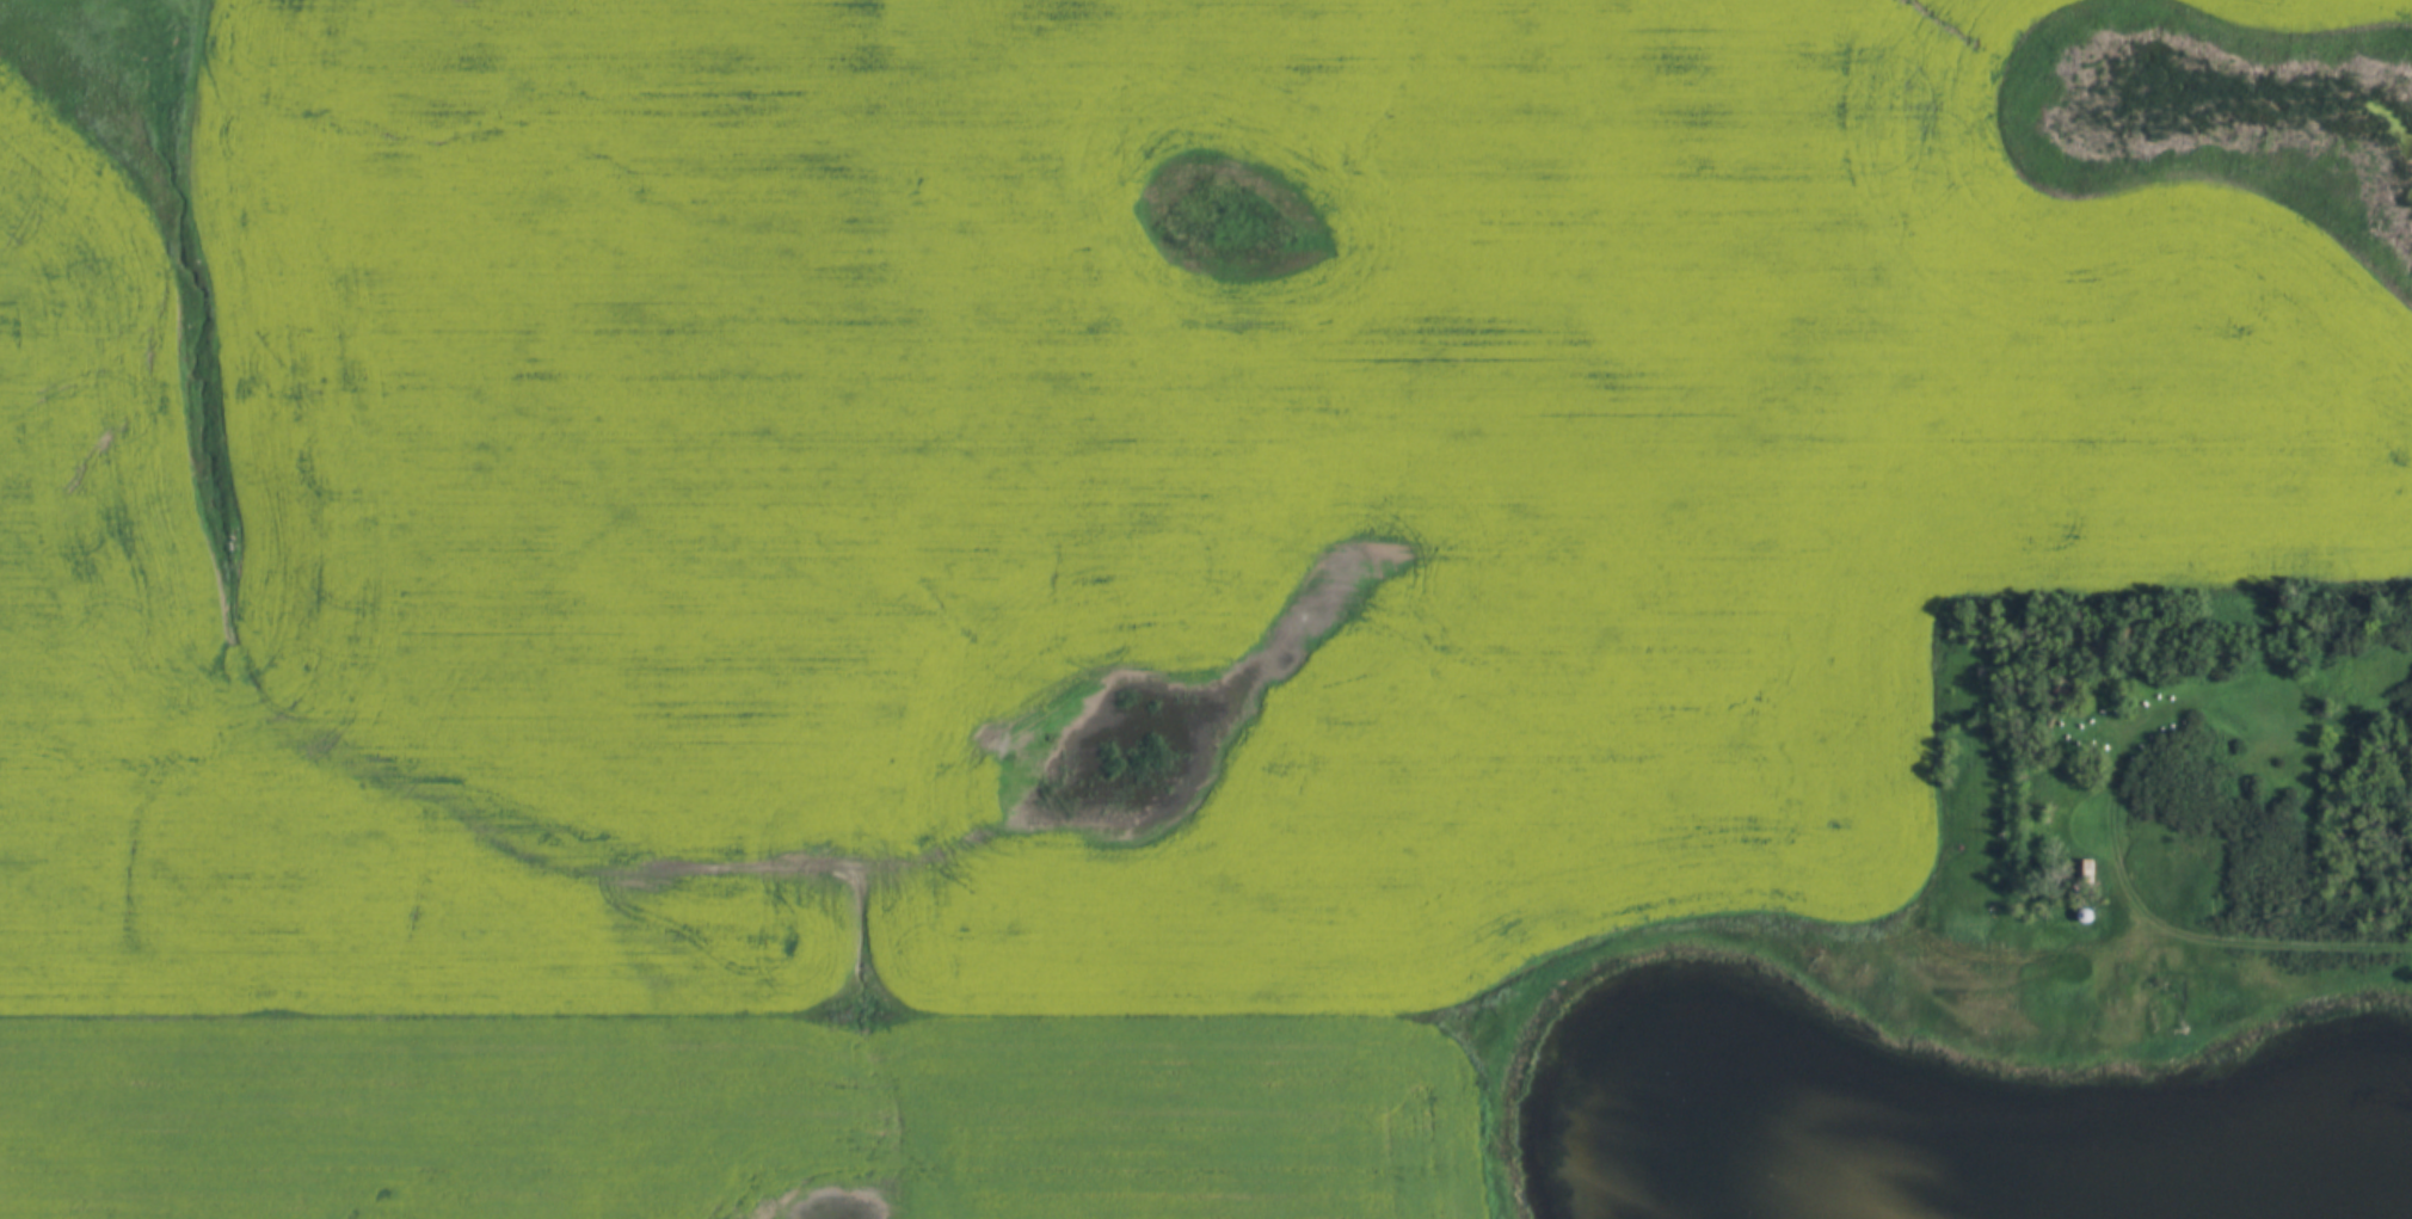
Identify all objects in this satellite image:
road: (2251, 942)

